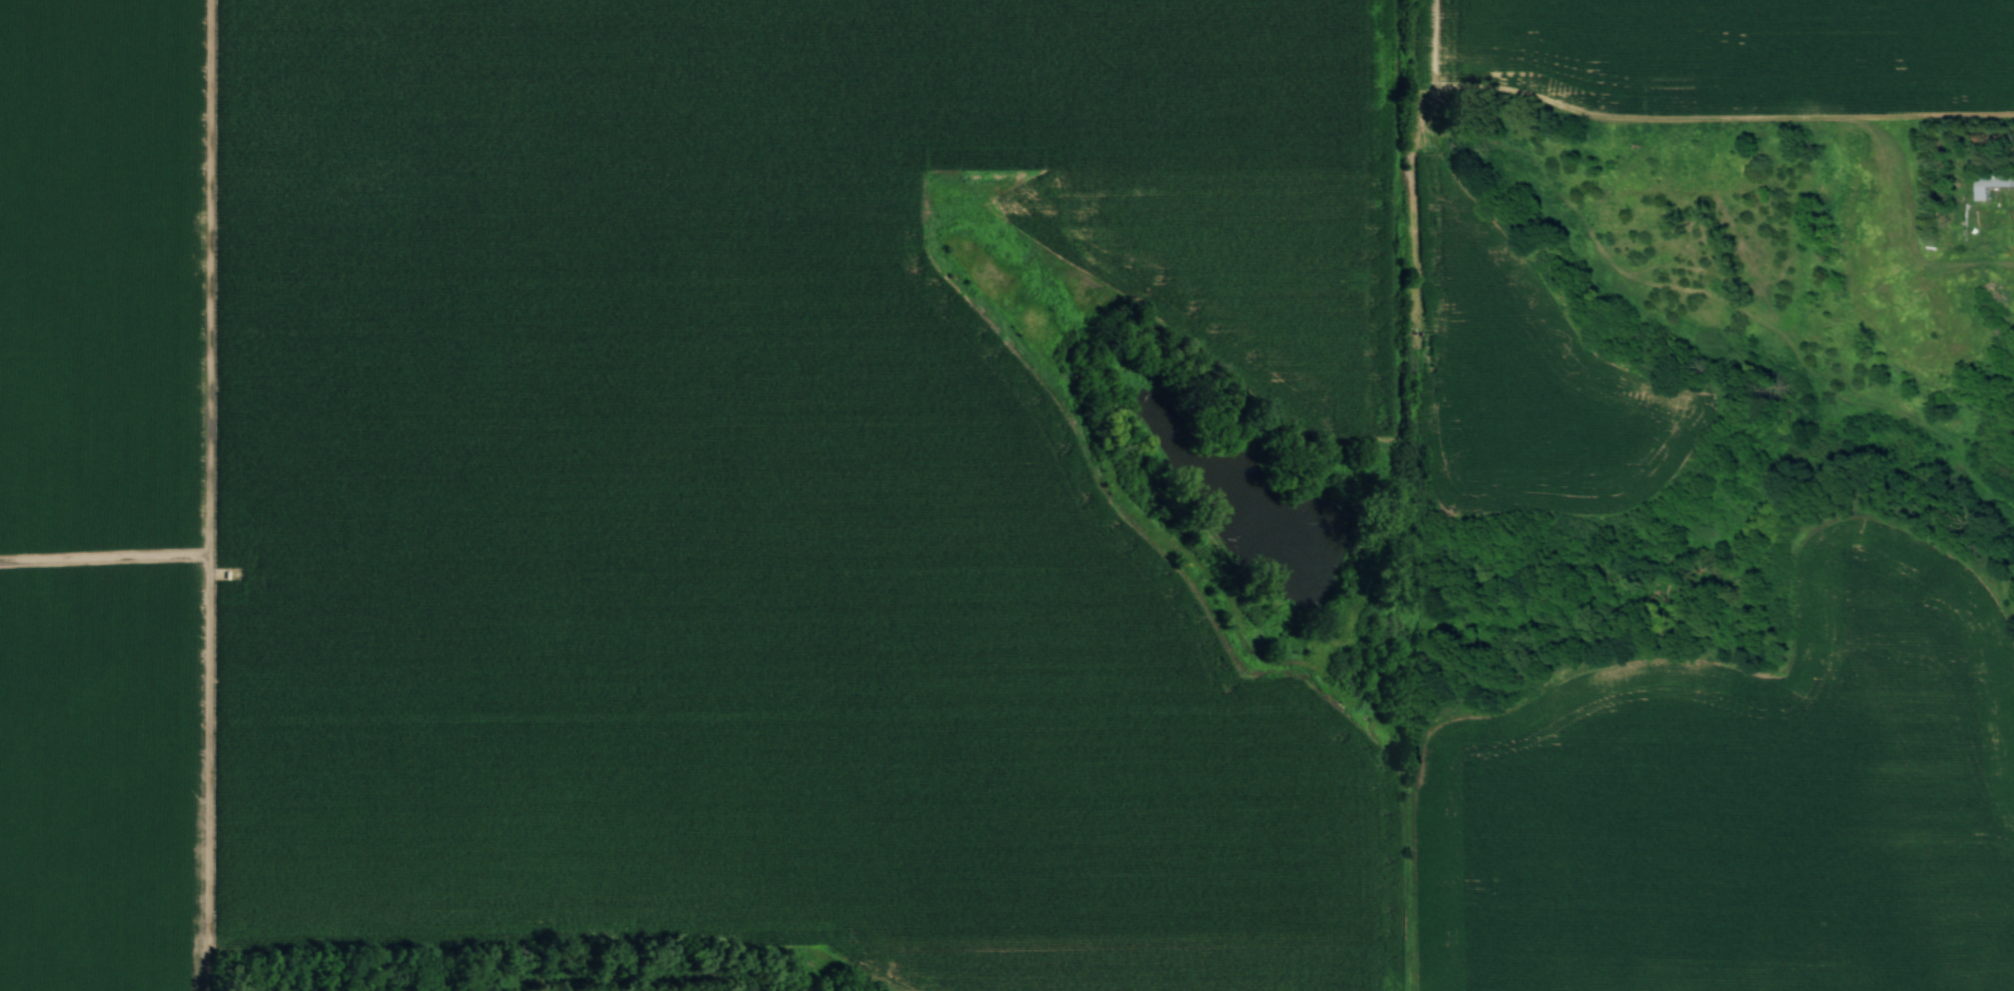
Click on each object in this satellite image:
building: (1989, 181)

